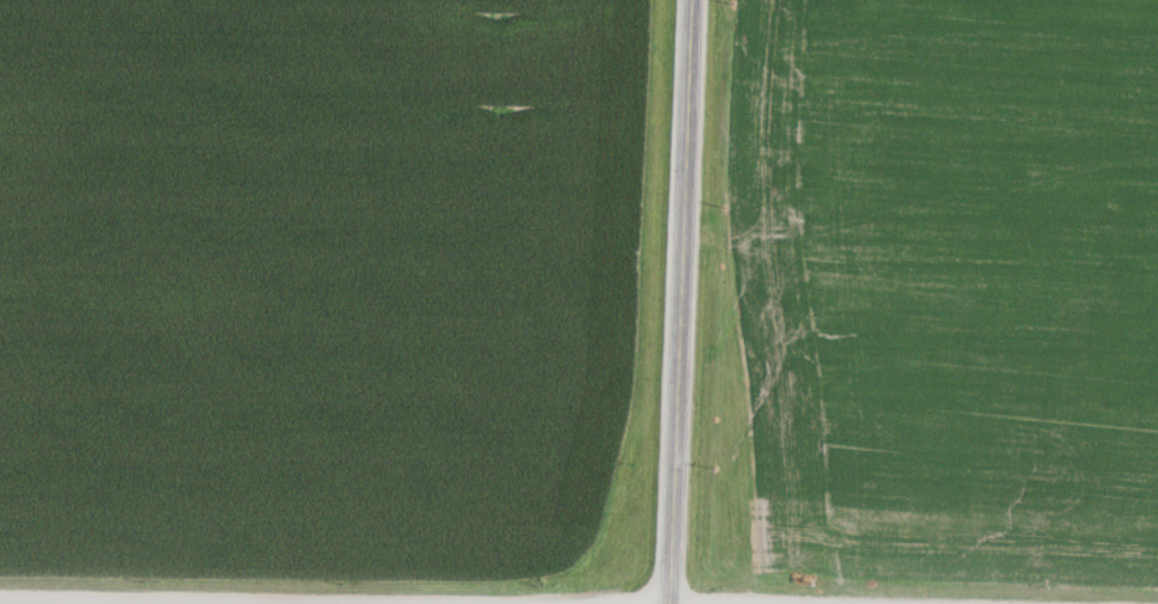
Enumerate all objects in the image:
road: (681, 301)
road: (203, 600)

